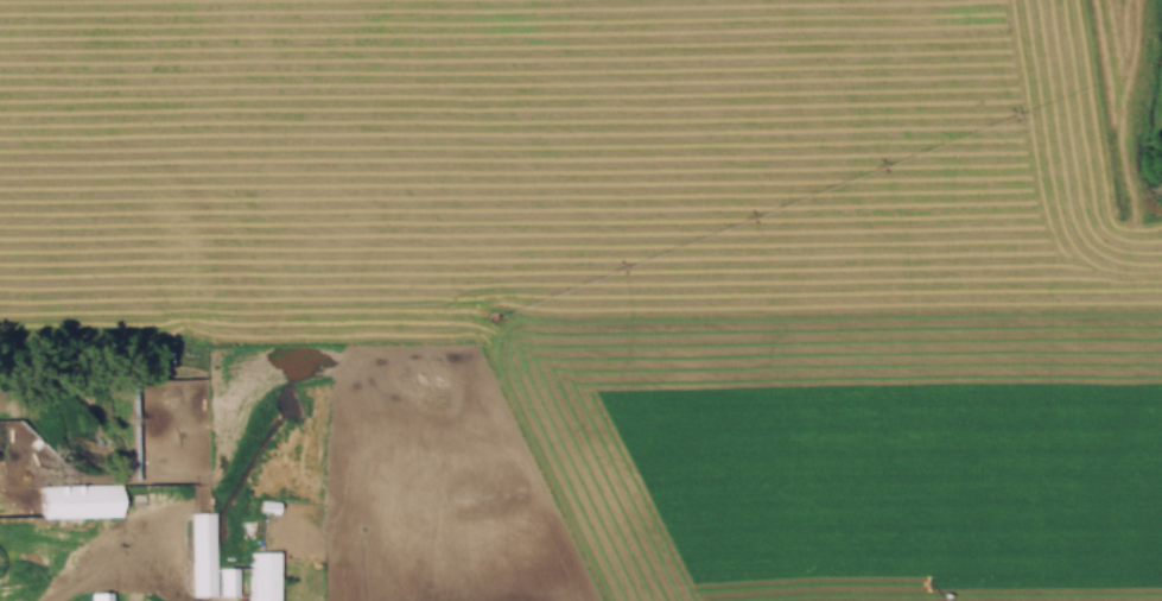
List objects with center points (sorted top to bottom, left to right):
building: (80, 506)
building: (197, 559)
building: (262, 580)
building: (227, 581)
building: (96, 599)

